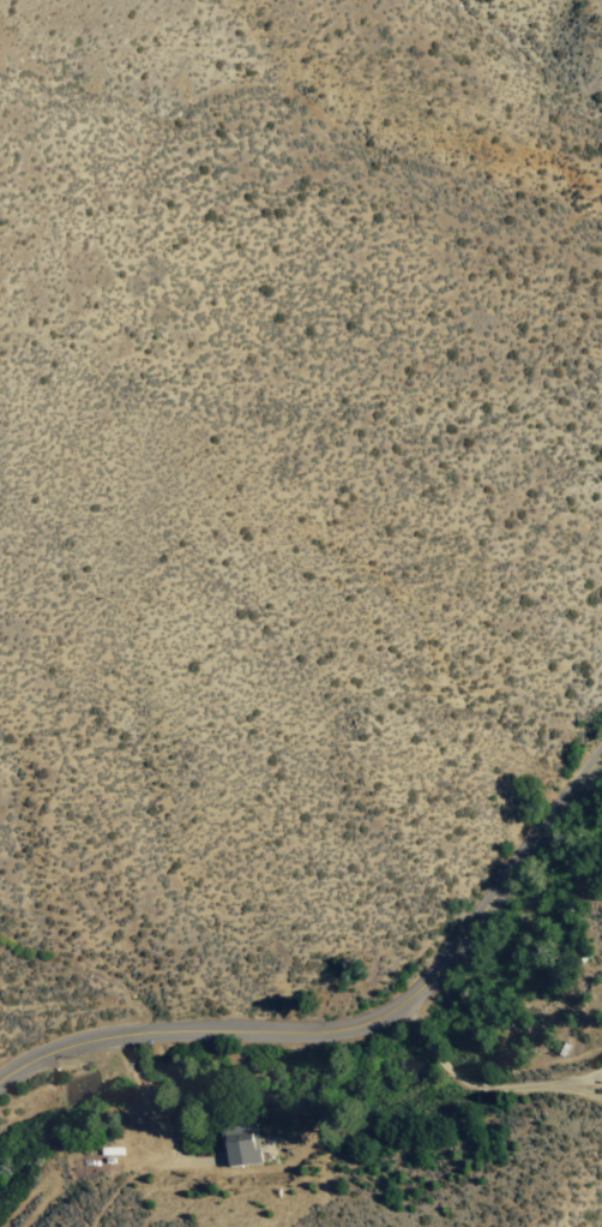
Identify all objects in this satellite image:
road: (598, 944)
road: (354, 1014)
road: (145, 1102)
building: (246, 1151)

